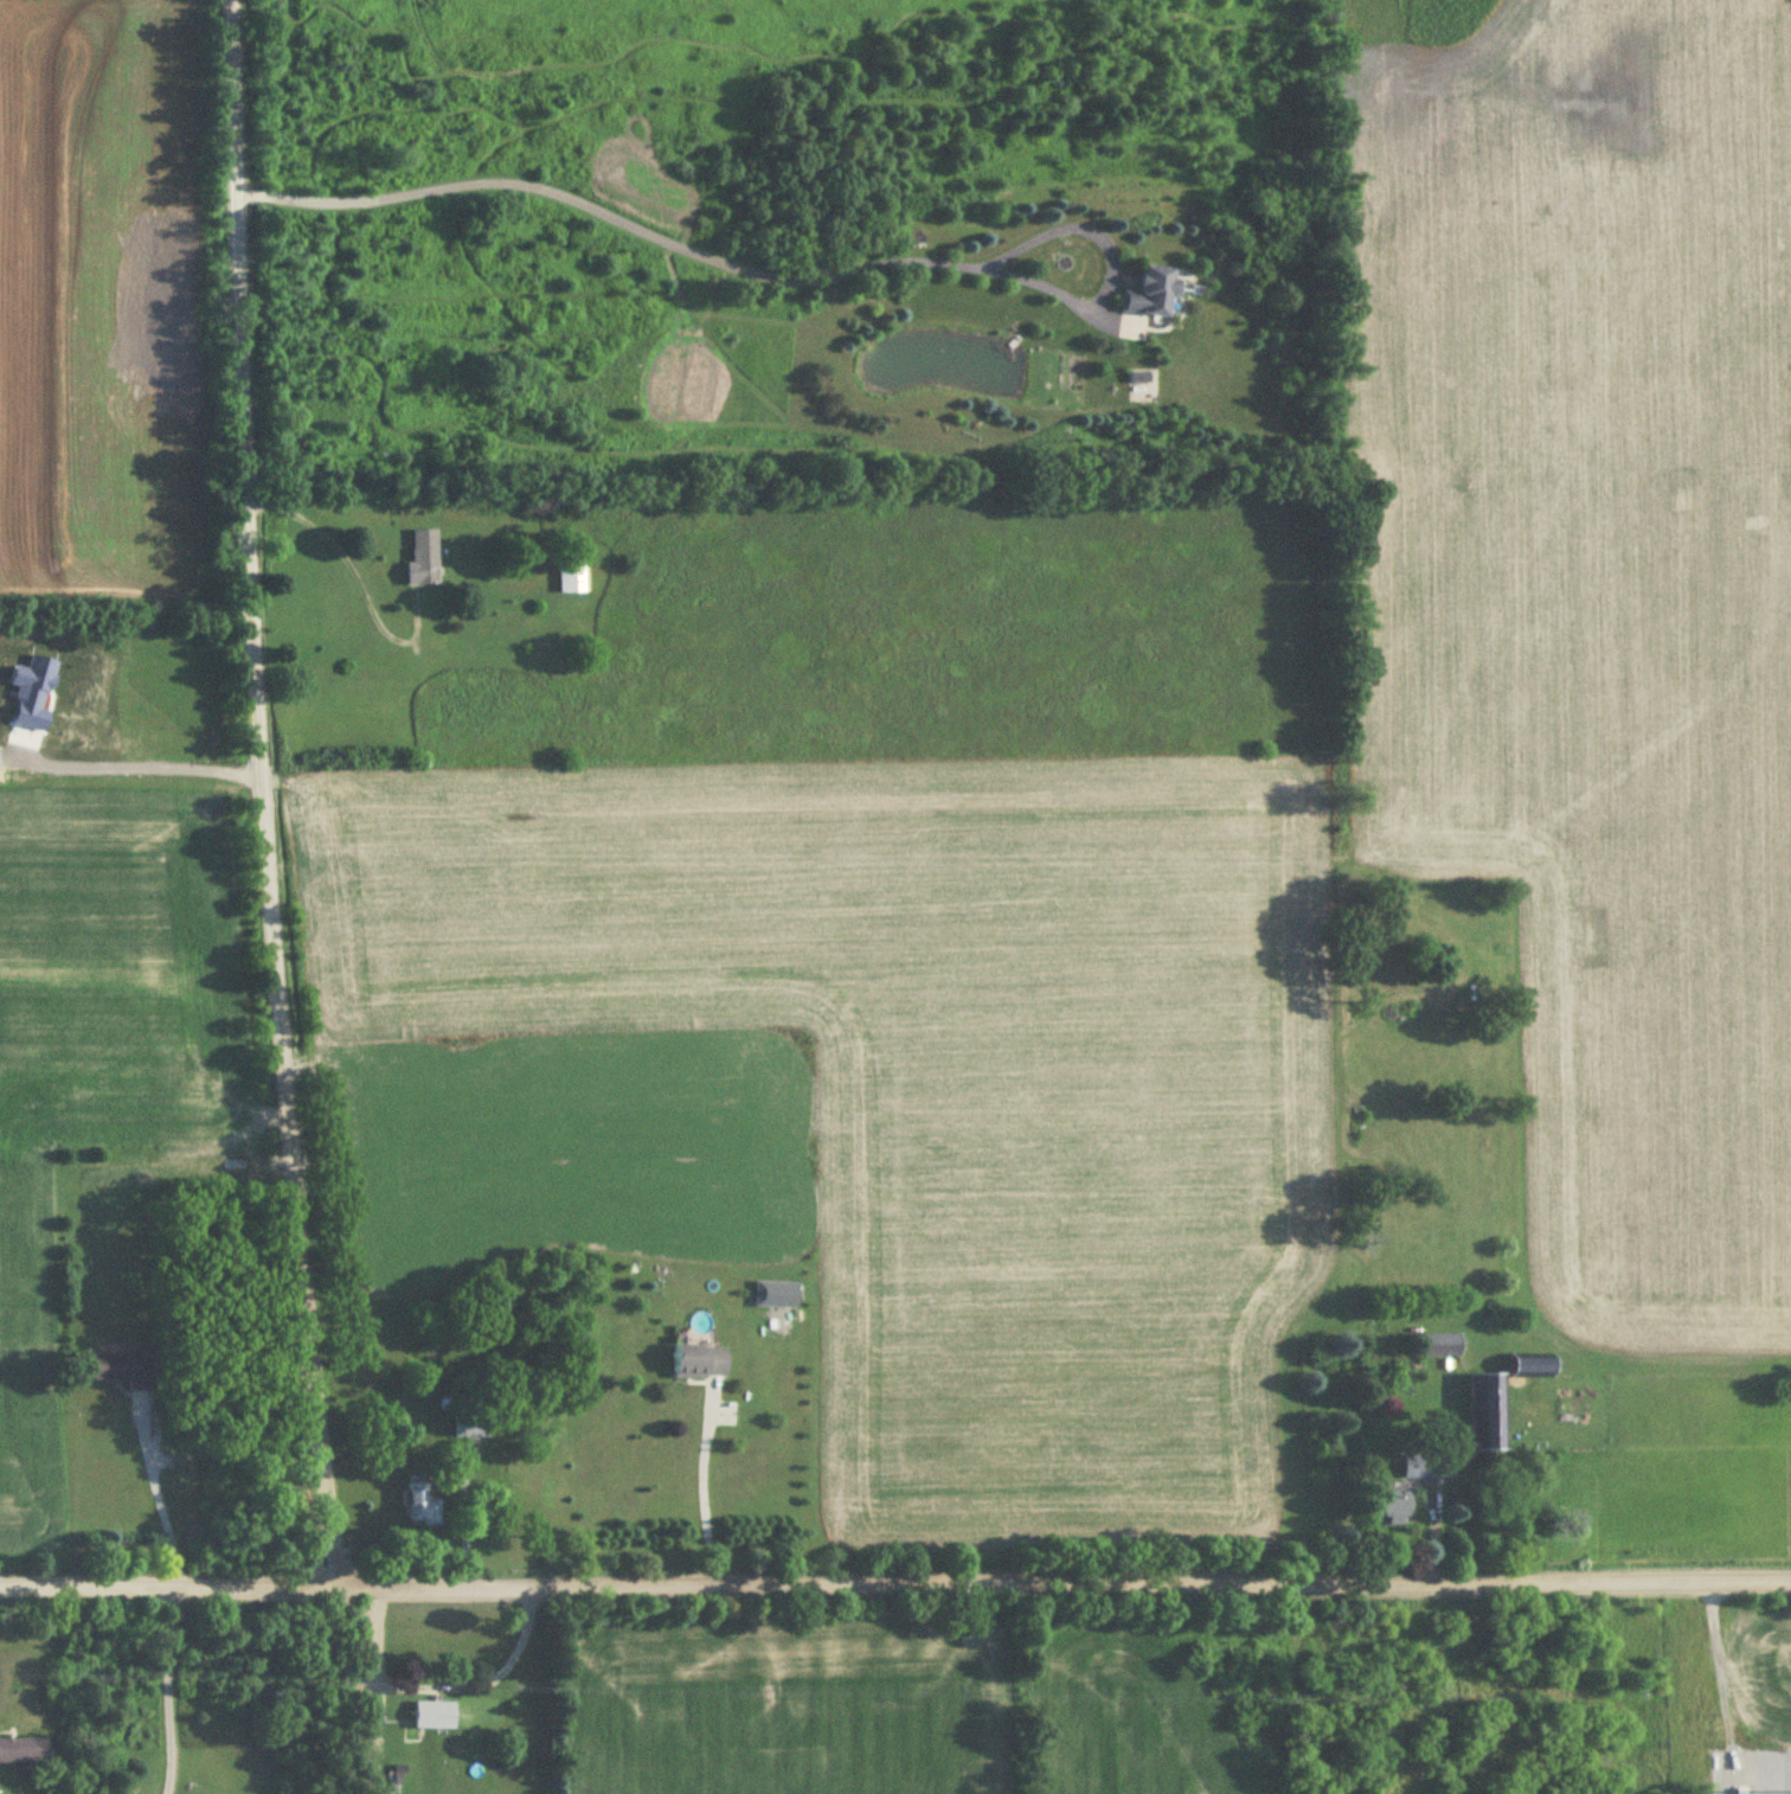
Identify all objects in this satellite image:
road: (768, 278)
building: (1153, 294)
building: (423, 559)
road: (355, 576)
building: (571, 579)
road: (265, 793)
building: (1442, 1346)
building: (699, 1363)
building: (1533, 1367)
building: (123, 1371)
building: (1488, 1412)
building: (470, 1427)
building: (1424, 1467)
road: (706, 1488)
road: (160, 1497)
building: (421, 1503)
building: (1394, 1505)
road: (457, 1519)
road: (894, 1581)
road: (434, 1686)
road: (169, 1689)
building: (432, 1716)
building: (24, 1751)

